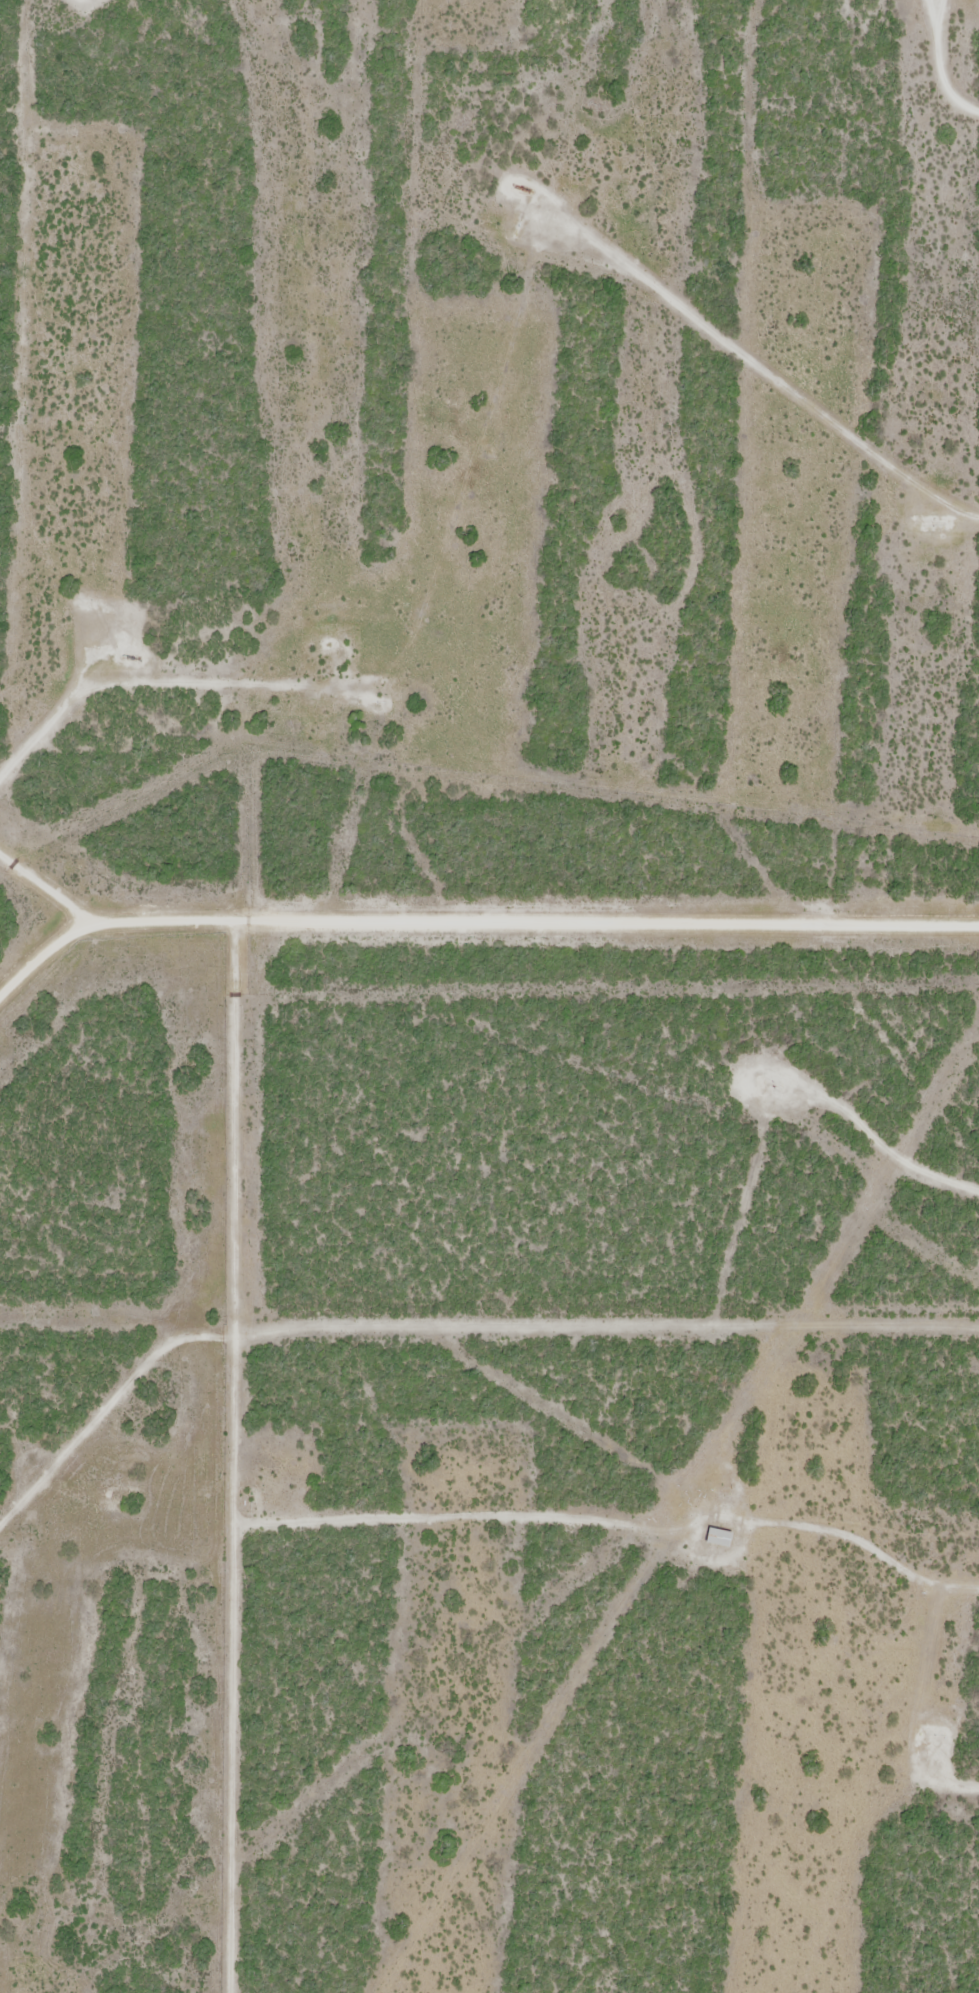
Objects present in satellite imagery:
road: (477, 924)
building: (718, 1538)

